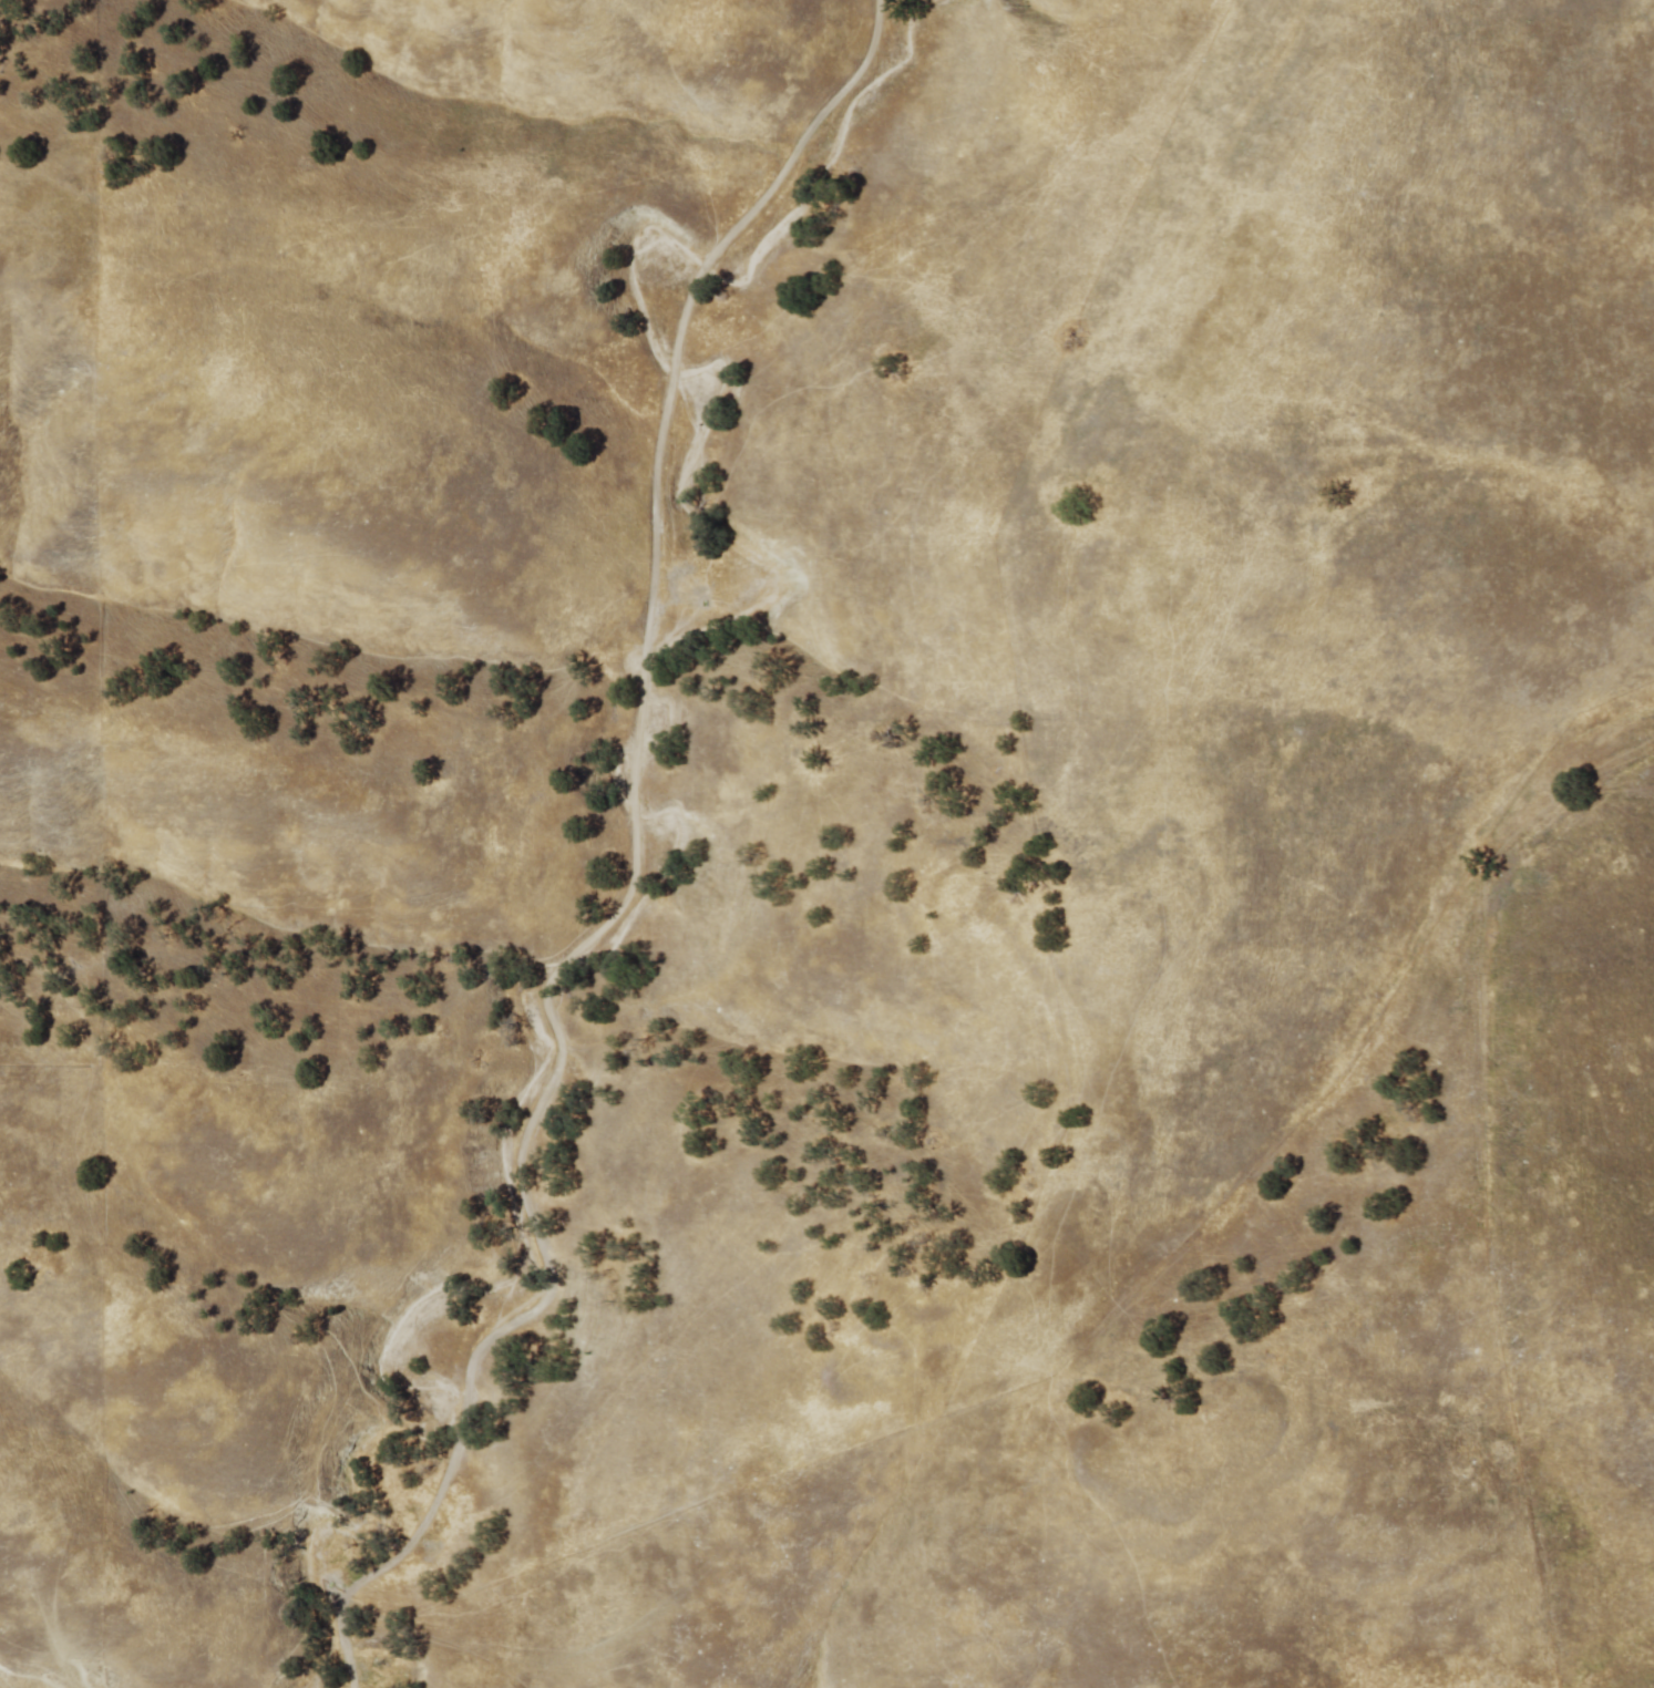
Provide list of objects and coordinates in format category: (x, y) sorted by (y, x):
road: (638, 873)

